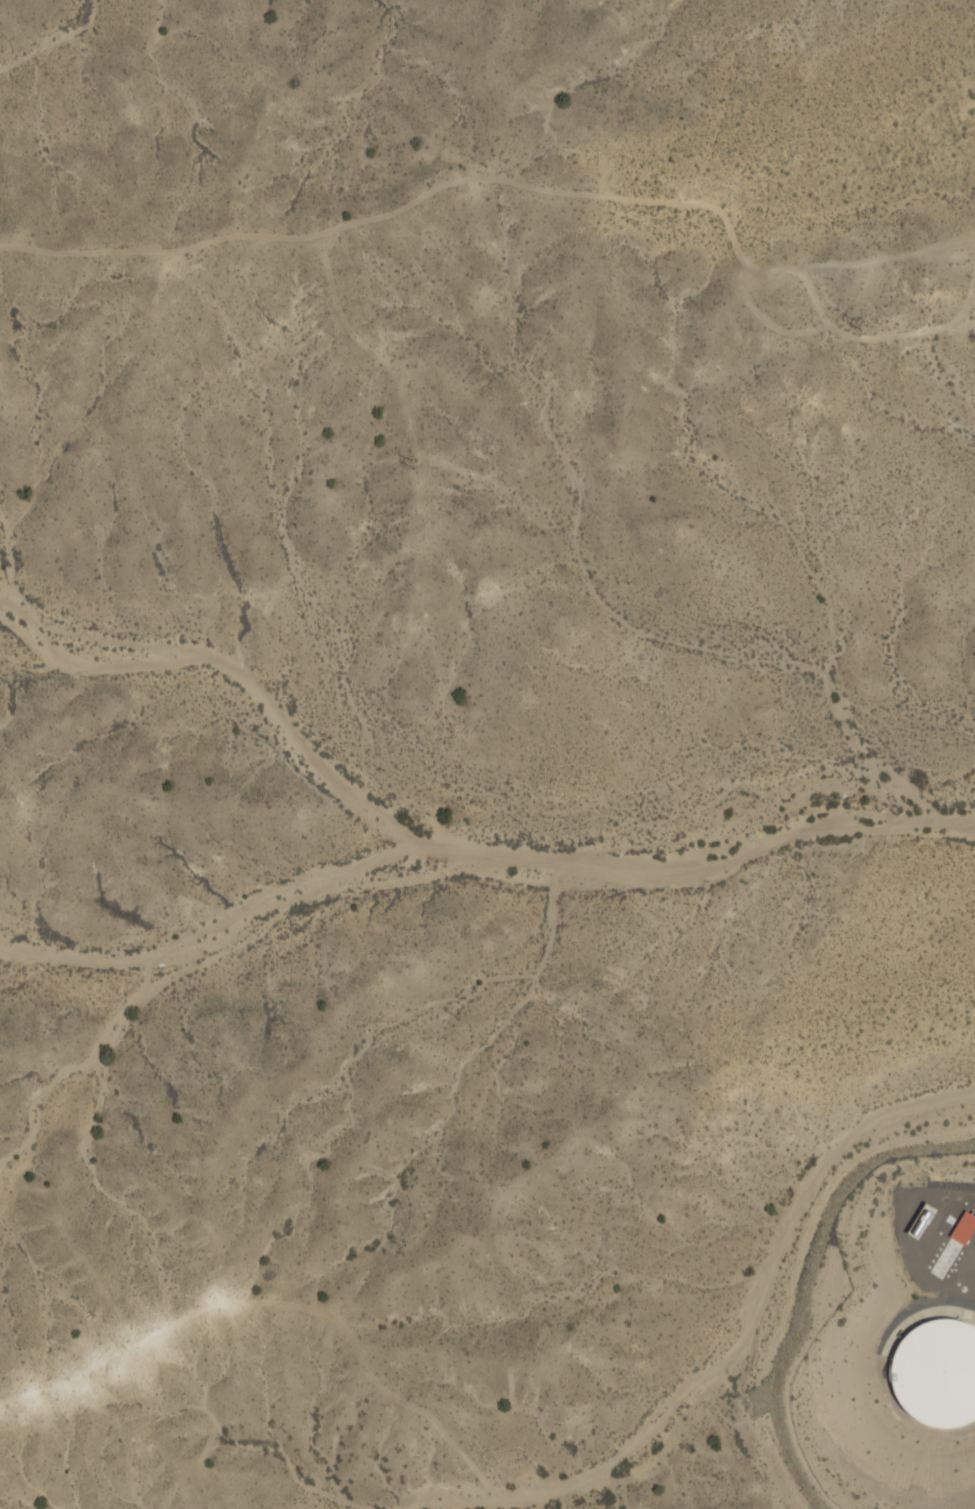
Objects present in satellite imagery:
power tower: (860, 323)
power tower: (413, 463)
road: (816, 1194)
building: (916, 1219)
building: (961, 1225)
building: (938, 1372)
storage tank: (938, 1372)

